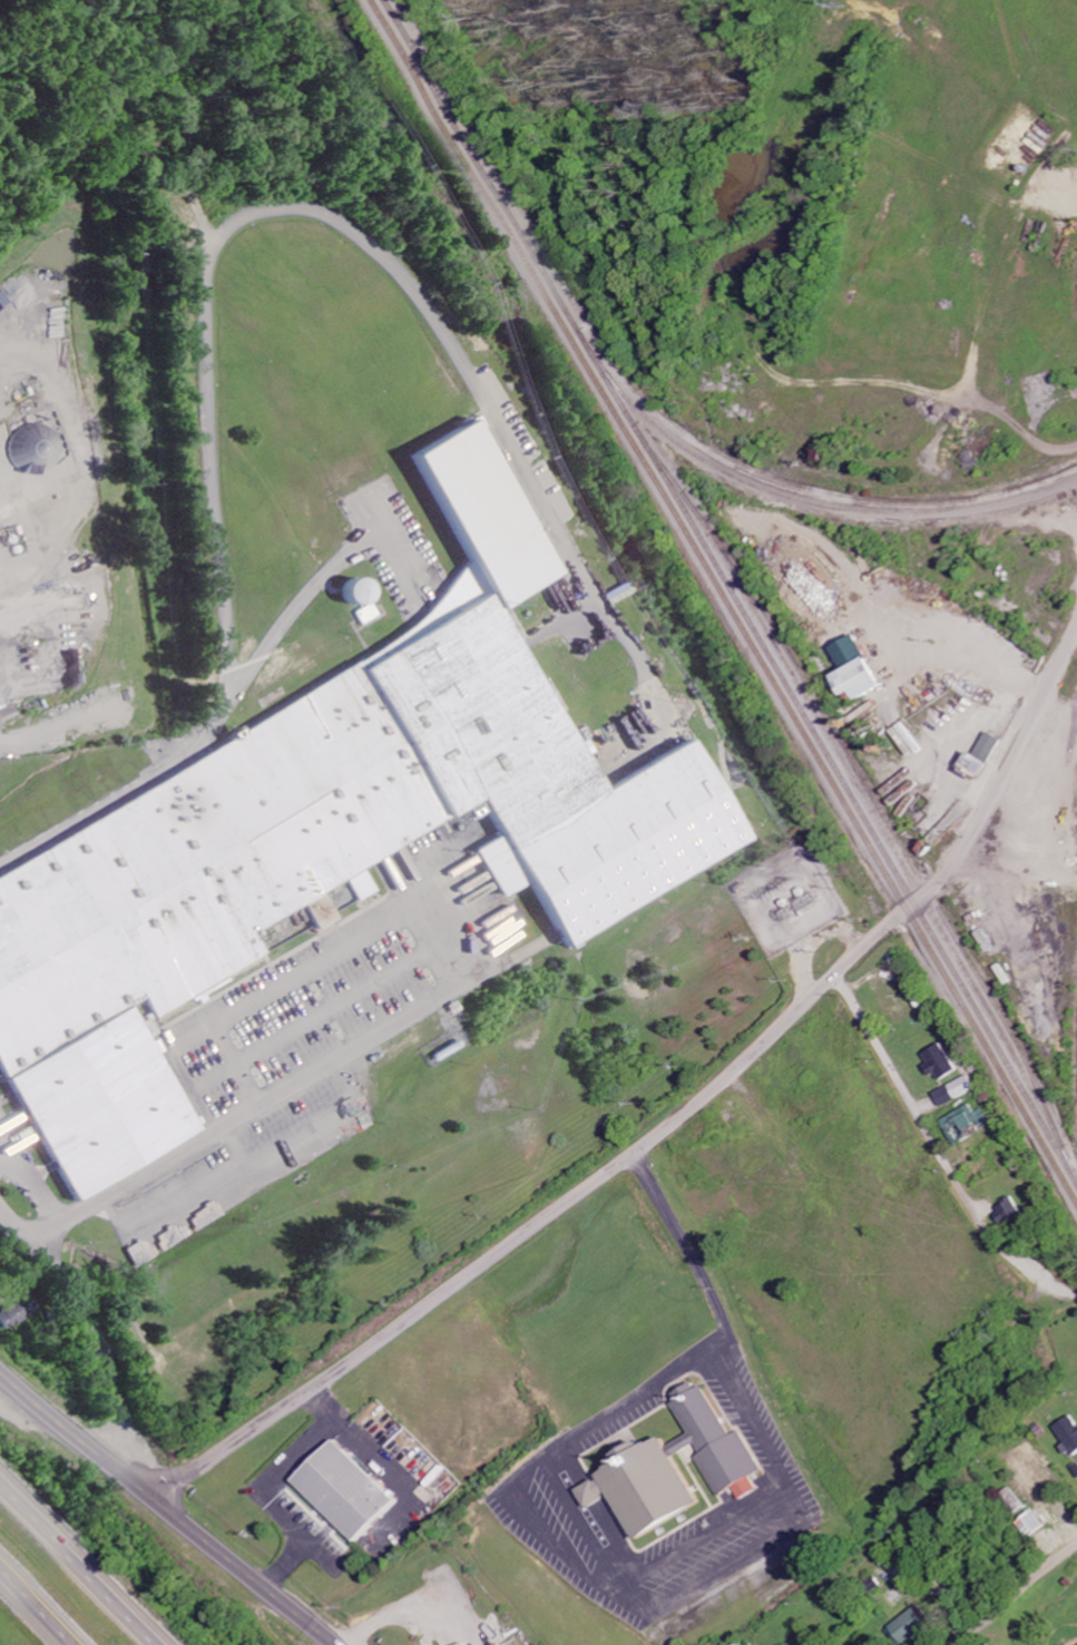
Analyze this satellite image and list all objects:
railway: (815, 500)
building: (364, 593)
railway: (724, 599)
building: (862, 668)
building: (987, 755)
building: (327, 838)
road: (1017, 870)
building: (942, 1064)
building: (959, 1091)
building: (969, 1120)
road: (677, 1122)
road: (939, 1152)
building: (1012, 1214)
building: (25, 1310)
road: (92, 1328)
building: (1069, 1436)
building: (679, 1470)
building: (1039, 1485)
building: (351, 1492)
building: (1011, 1502)
road: (164, 1509)
building: (1035, 1528)
road: (76, 1568)
road: (1014, 1594)
road: (41, 1603)
building: (912, 1627)

